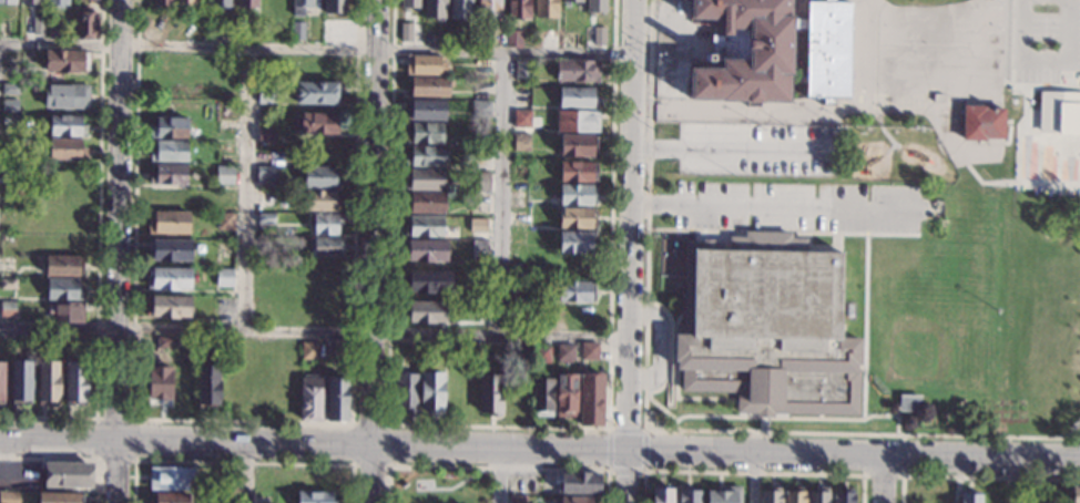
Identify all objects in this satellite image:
building: (571, 0)
building: (8, 2)
building: (30, 2)
building: (162, 2)
building: (184, 2)
building: (411, 2)
building: (57, 3)
building: (220, 3)
building: (246, 3)
road: (925, 4)
building: (594, 6)
building: (300, 7)
building: (334, 7)
building: (544, 8)
building: (432, 9)
building: (458, 9)
building: (488, 9)
building: (518, 9)
road: (806, 18)
building: (84, 23)
building: (26, 25)
building: (53, 29)
building: (406, 30)
building: (297, 31)
building: (458, 34)
building: (599, 35)
building: (513, 38)
parking lot: (1043, 38)
road: (317, 48)
building: (771, 50)
park: (927, 54)
road: (1045, 58)
building: (67, 61)
road: (796, 64)
building: (425, 65)
building: (523, 69)
building: (577, 71)
building: (30, 76)
road: (1006, 79)
building: (430, 86)
building: (9, 89)
building: (317, 93)
building: (65, 96)
building: (577, 97)
building: (937, 97)
road: (750, 101)
building: (9, 106)
building: (481, 109)
building: (425, 110)
building: (1060, 111)
road: (906, 114)
building: (266, 117)
building: (521, 119)
building: (9, 120)
building: (577, 121)
building: (981, 122)
building: (316, 124)
building: (67, 126)
building: (169, 129)
road: (883, 131)
road: (1008, 131)
road: (1019, 132)
building: (425, 133)
building: (266, 135)
road: (1048, 137)
building: (521, 142)
road: (894, 144)
building: (578, 145)
building: (65, 148)
road: (727, 150)
parking lot: (757, 150)
building: (169, 152)
building: (426, 156)
building: (578, 172)
building: (167, 175)
building: (224, 175)
building: (265, 176)
building: (320, 178)
building: (481, 178)
building: (425, 181)
road: (1018, 183)
road: (248, 189)
road: (503, 195)
building: (577, 195)
building: (319, 201)
building: (426, 203)
road: (775, 203)
parking lot: (796, 206)
building: (577, 217)
building: (265, 218)
building: (224, 220)
building: (167, 223)
building: (324, 224)
road: (631, 224)
building: (478, 225)
building: (424, 227)
road: (782, 230)
park: (1041, 232)
building: (577, 242)
building: (326, 247)
building: (224, 249)
building: (169, 250)
building: (426, 250)
road: (121, 251)
road: (374, 251)
building: (480, 251)
road: (98, 256)
building: (63, 266)
building: (169, 278)
building: (224, 278)
building: (427, 283)
building: (8, 284)
building: (63, 290)
building: (575, 291)
building: (167, 307)
building: (7, 308)
building: (424, 311)
building: (67, 312)
building: (766, 326)
road: (865, 326)
road: (314, 333)
building: (75, 340)
building: (164, 342)
park: (933, 342)
road: (660, 346)
building: (339, 347)
road: (670, 348)
building: (309, 350)
building: (589, 351)
building: (414, 353)
building: (541, 353)
building: (564, 353)
building: (48, 381)
building: (75, 381)
building: (1, 382)
building: (20, 382)
building: (160, 384)
building: (208, 386)
building: (406, 393)
building: (432, 393)
building: (490, 393)
building: (566, 396)
building: (310, 398)
building: (542, 398)
road: (692, 398)
building: (337, 399)
building: (591, 399)
building: (908, 402)
road: (131, 417)
road: (774, 418)
road: (244, 422)
road: (388, 424)
road: (675, 424)
road: (500, 425)
road: (644, 429)
road: (646, 429)
road: (1071, 429)
road: (540, 446)
traffic signals: (628, 448)
road: (71, 456)
road: (241, 459)
road: (497, 466)
road: (752, 471)
road: (243, 472)
road: (903, 473)
road: (499, 474)
building: (68, 475)
road: (626, 475)
road: (754, 476)
road: (977, 476)
building: (170, 479)
road: (887, 480)
road: (1010, 481)
building: (579, 482)
road: (438, 487)
building: (724, 494)
building: (661, 495)
building: (687, 495)
building: (770, 495)
building: (817, 495)
building: (1074, 495)
building: (843, 496)
building: (9, 497)
building: (60, 497)
building: (171, 497)
building: (315, 497)
building: (794, 497)
building: (517, 499)
building: (970, 499)
building: (575, 500)

